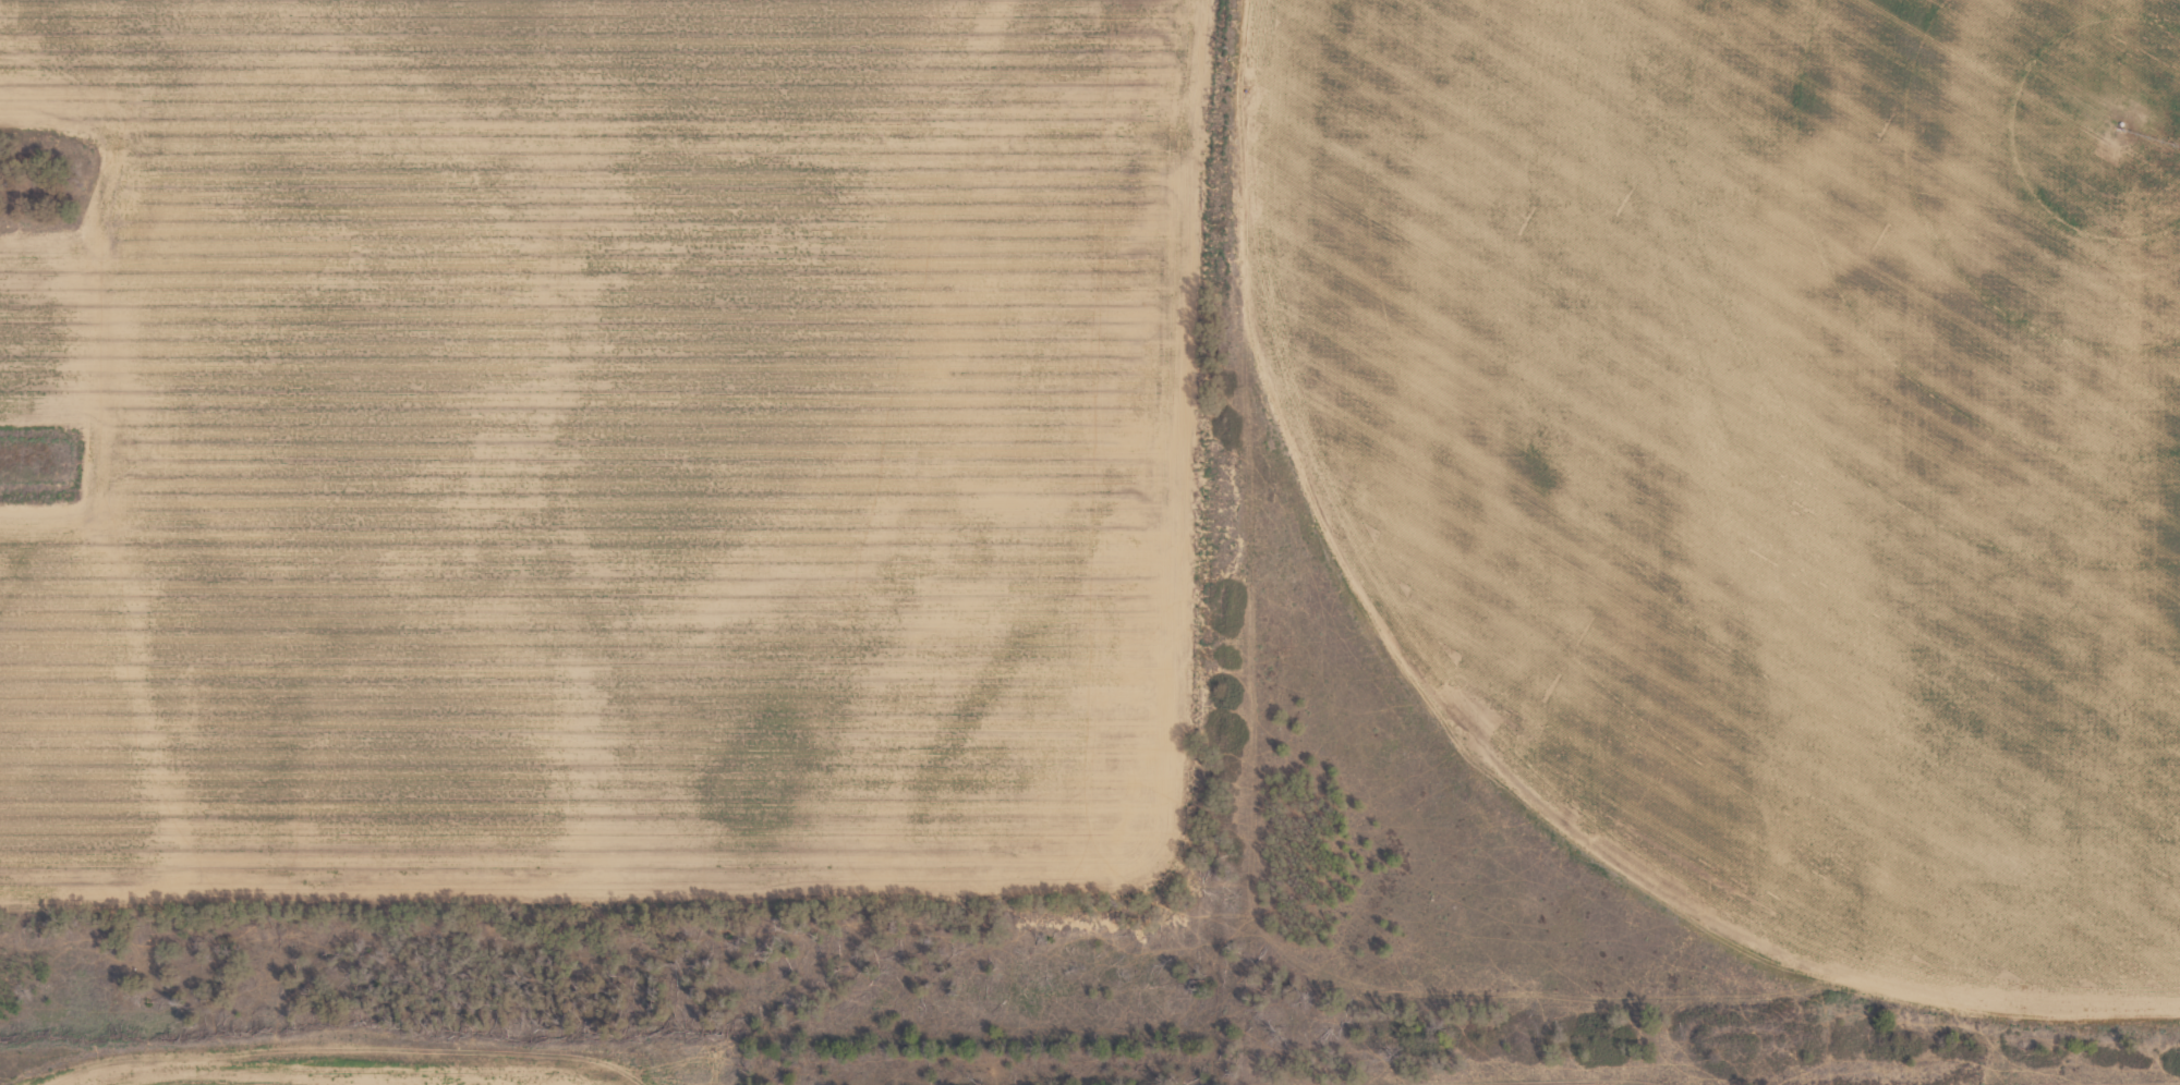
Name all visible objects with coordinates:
crop: (1090, 542)
railway: (1698, 544)

